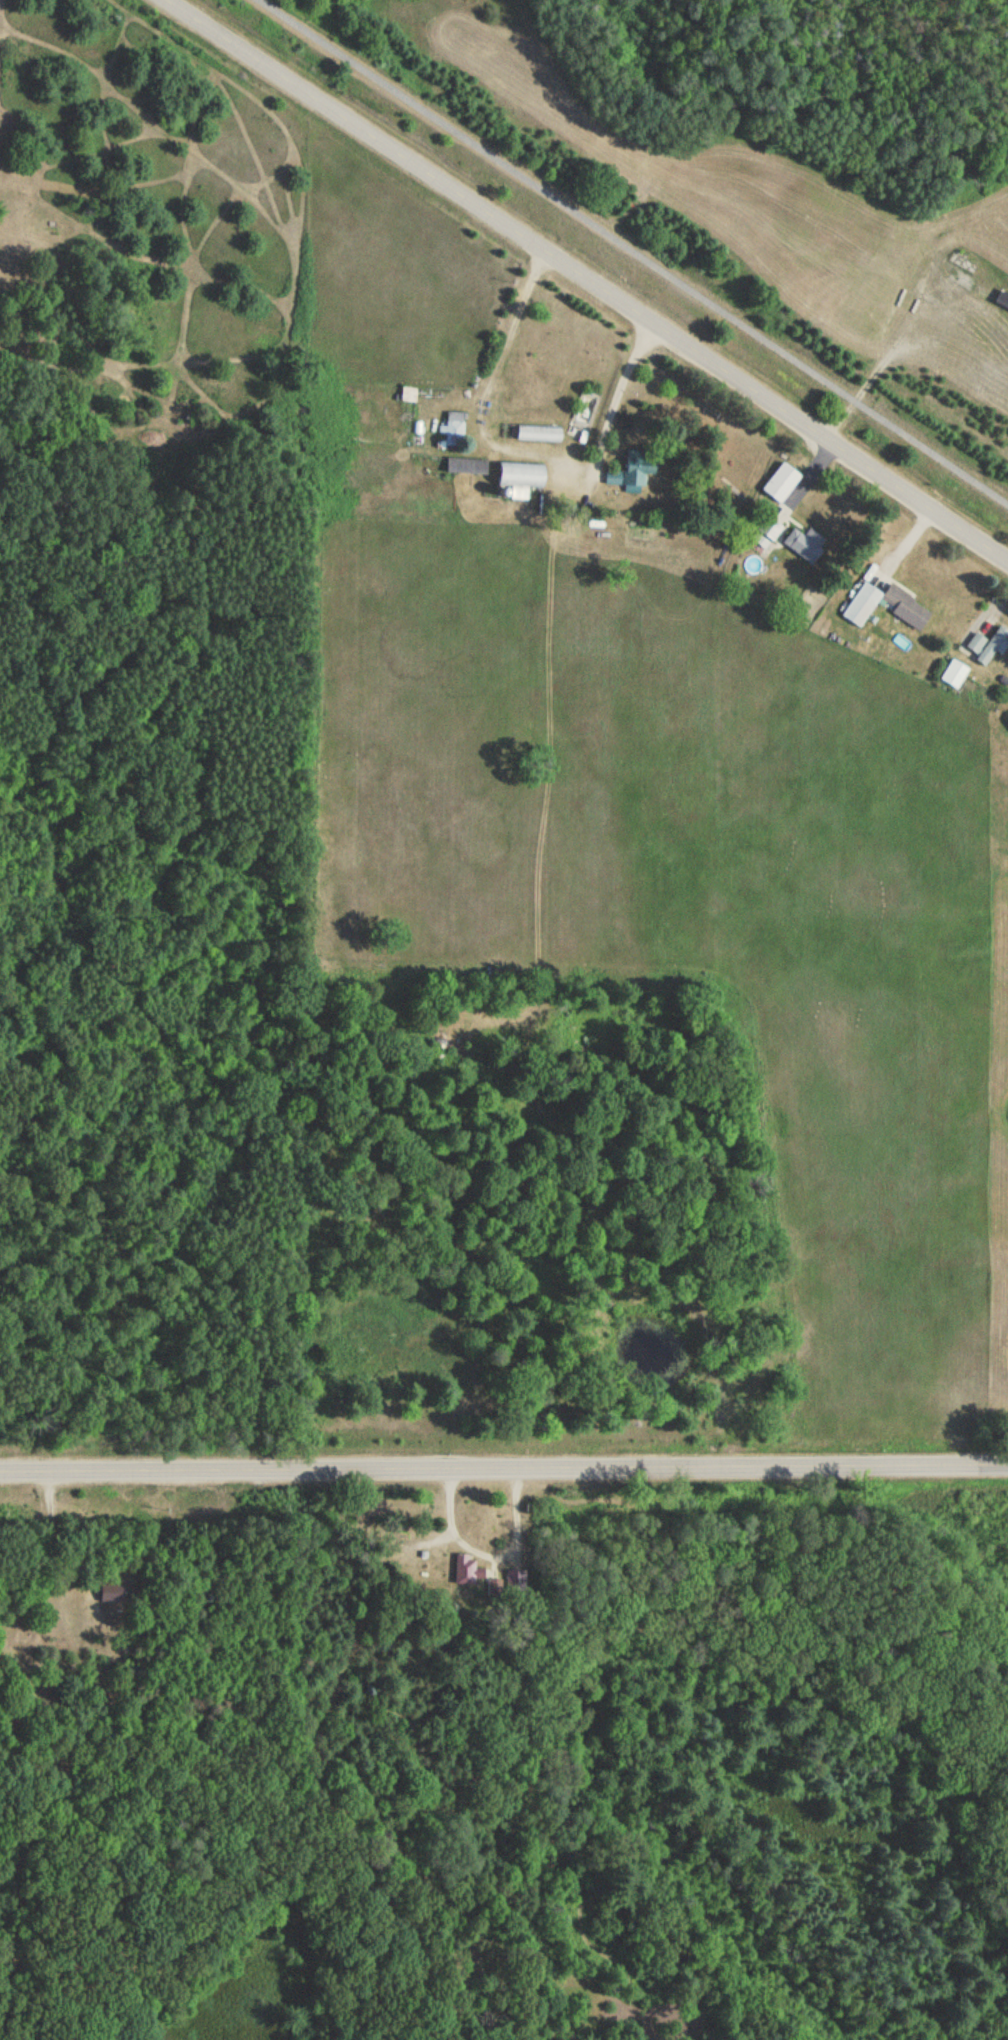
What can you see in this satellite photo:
road: (628, 253)
road: (588, 280)
building: (455, 426)
building: (539, 434)
building: (466, 466)
building: (521, 475)
building: (637, 476)
building: (779, 500)
building: (806, 545)
building: (886, 606)
building: (987, 645)
building: (954, 674)
road: (504, 1467)
building: (391, 1537)
building: (467, 1570)
building: (116, 1596)

